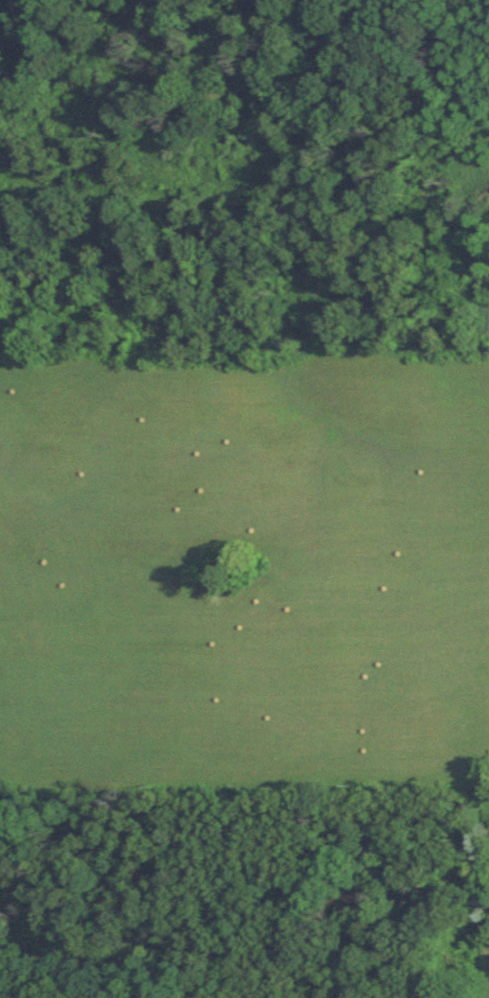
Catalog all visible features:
road: (354, 91)

